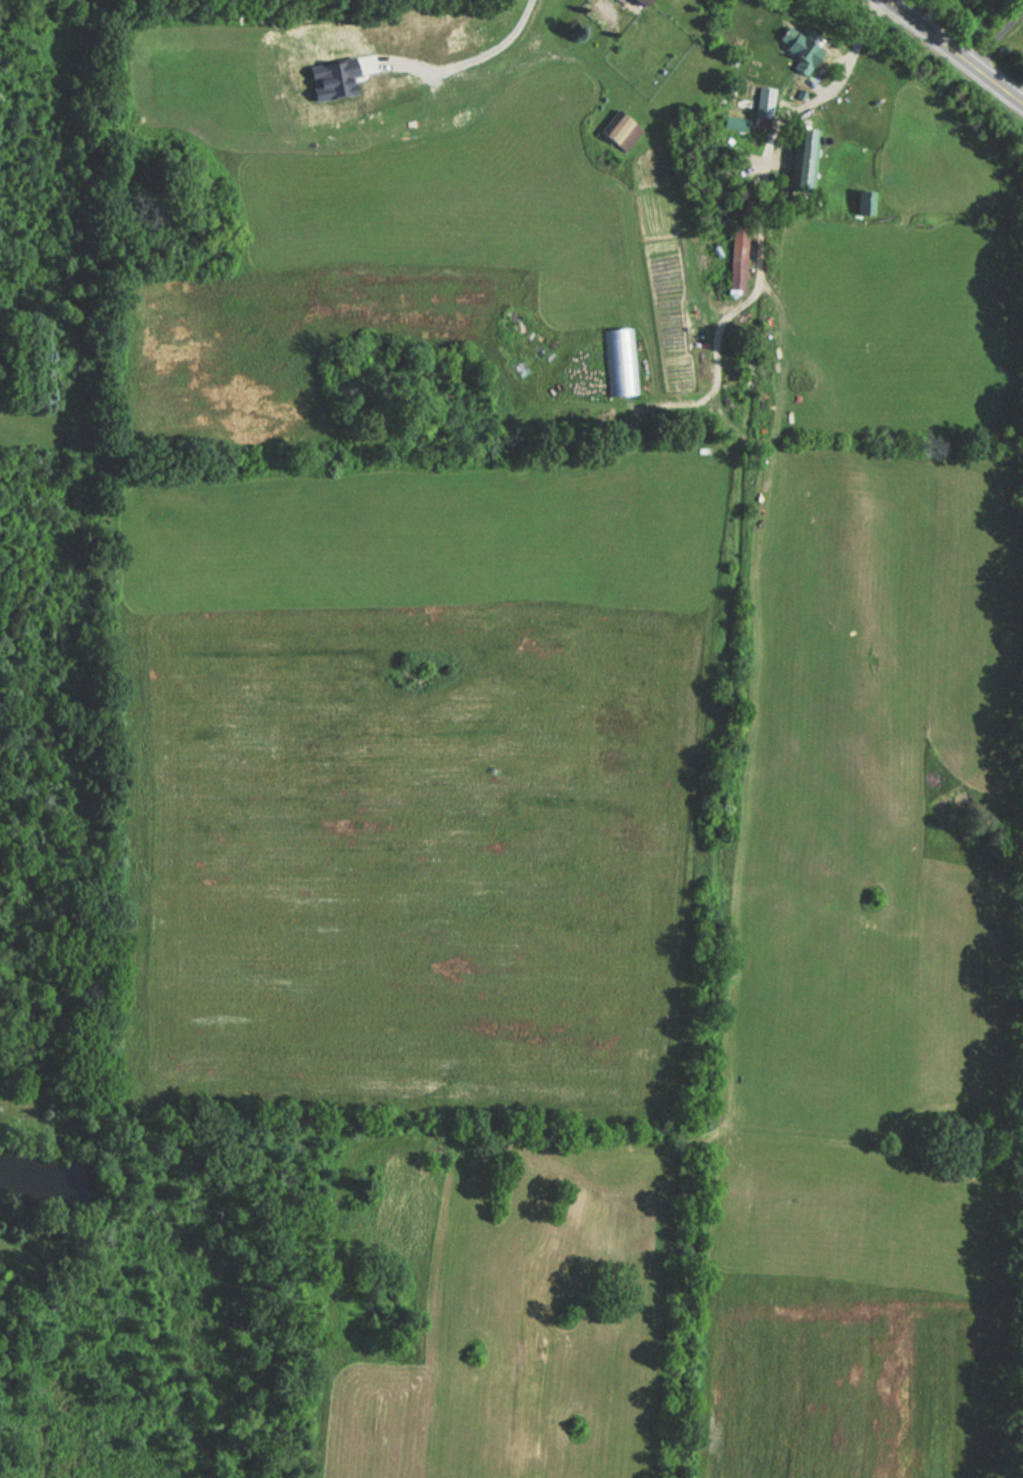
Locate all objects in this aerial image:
building: (635, 4)
road: (993, 31)
road: (954, 51)
building: (799, 53)
road: (469, 62)
road: (825, 89)
building: (618, 131)
building: (799, 161)
building: (861, 204)
building: (618, 361)

